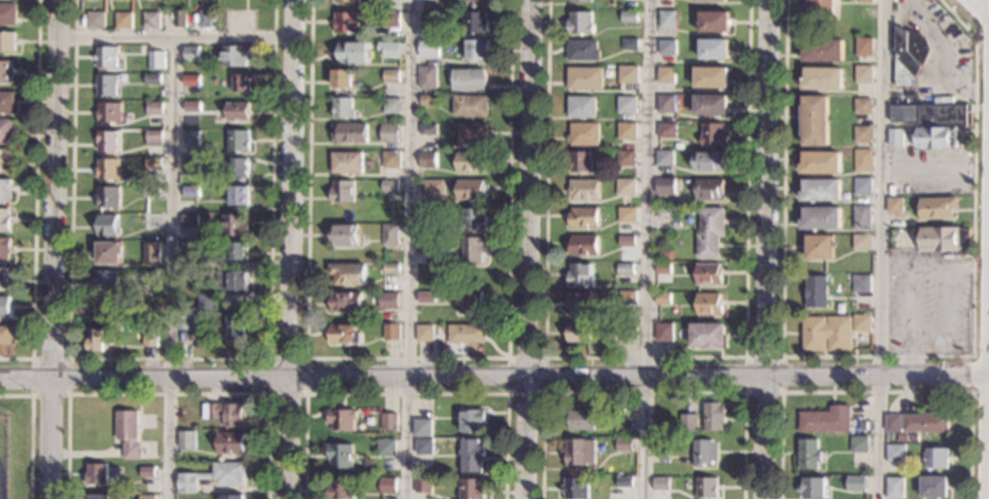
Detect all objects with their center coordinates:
building: (347, 1)
building: (582, 1)
building: (711, 1)
building: (865, 1)
building: (822, 7)
building: (8, 14)
building: (430, 17)
building: (630, 17)
building: (180, 18)
building: (202, 19)
building: (668, 19)
building: (95, 20)
building: (123, 20)
building: (151, 20)
building: (392, 20)
building: (347, 22)
building: (581, 22)
building: (714, 22)
building: (476, 23)
road: (975, 25)
road: (177, 37)
building: (7, 42)
building: (631, 44)
building: (668, 47)
building: (864, 47)
building: (430, 48)
building: (390, 49)
building: (478, 49)
building: (584, 50)
building: (715, 50)
building: (824, 50)
building: (352, 52)
building: (191, 53)
building: (235, 55)
building: (910, 56)
building: (106, 57)
building: (156, 60)
building: (6, 71)
building: (379, 74)
building: (864, 74)
building: (629, 75)
building: (666, 75)
building: (392, 76)
building: (428, 77)
building: (712, 77)
building: (344, 78)
building: (585, 78)
building: (153, 79)
building: (468, 79)
building: (824, 79)
building: (192, 80)
building: (242, 82)
building: (106, 84)
building: (429, 100)
building: (6, 102)
building: (667, 103)
building: (393, 105)
building: (628, 105)
building: (712, 105)
building: (192, 106)
building: (471, 106)
building: (583, 107)
building: (863, 107)
building: (154, 108)
building: (344, 108)
building: (238, 111)
building: (109, 113)
building: (933, 115)
building: (815, 121)
building: (429, 130)
building: (668, 130)
building: (5, 131)
building: (628, 131)
building: (351, 133)
building: (389, 133)
building: (473, 134)
building: (714, 134)
building: (862, 134)
building: (584, 135)
building: (191, 137)
building: (895, 137)
building: (155, 138)
building: (936, 138)
building: (108, 140)
building: (239, 140)
building: (626, 158)
building: (665, 158)
building: (392, 159)
building: (429, 160)
building: (709, 160)
building: (863, 160)
building: (6, 161)
building: (581, 161)
building: (347, 162)
building: (472, 162)
building: (821, 163)
building: (153, 164)
building: (192, 166)
building: (240, 167)
building: (109, 169)
building: (390, 186)
building: (666, 186)
building: (862, 186)
building: (626, 187)
building: (432, 189)
building: (584, 189)
building: (5, 190)
building: (344, 190)
building: (472, 190)
building: (710, 190)
building: (821, 190)
building: (191, 191)
building: (152, 192)
road: (34, 195)
building: (239, 195)
building: (109, 197)
building: (895, 205)
building: (937, 208)
building: (627, 213)
building: (429, 214)
building: (666, 216)
building: (584, 217)
building: (862, 217)
building: (190, 218)
building: (821, 218)
building: (4, 220)
building: (473, 220)
building: (153, 222)
building: (108, 225)
building: (236, 225)
building: (710, 232)
building: (345, 235)
building: (391, 235)
building: (945, 240)
building: (627, 241)
building: (861, 242)
building: (430, 243)
building: (583, 246)
building: (5, 248)
building: (820, 248)
road: (53, 249)
road: (293, 249)
road: (407, 249)
building: (473, 249)
road: (529, 249)
road: (643, 249)
road: (766, 249)
road: (879, 249)
building: (239, 251)
building: (110, 252)
building: (152, 253)
building: (665, 256)
building: (217, 263)
road: (172, 268)
building: (390, 268)
building: (625, 268)
building: (662, 269)
building: (349, 274)
building: (152, 275)
building: (581, 275)
building: (709, 275)
building: (4, 277)
road: (907, 278)
building: (108, 281)
building: (238, 281)
building: (861, 283)
building: (816, 292)
building: (425, 297)
building: (627, 297)
building: (662, 298)
building: (208, 301)
building: (347, 301)
building: (390, 301)
building: (470, 302)
building: (581, 303)
building: (708, 304)
building: (5, 306)
building: (186, 321)
building: (861, 323)
building: (236, 325)
road: (947, 328)
building: (149, 329)
building: (391, 332)
building: (578, 332)
building: (625, 332)
building: (663, 332)
building: (425, 333)
building: (466, 333)
building: (826, 334)
building: (6, 335)
building: (345, 335)
building: (707, 335)
building: (152, 338)
building: (101, 339)
road: (881, 356)
road: (643, 357)
road: (744, 357)
road: (406, 358)
road: (543, 358)
road: (68, 359)
road: (168, 359)
road: (270, 359)
road: (971, 363)
road: (494, 376)
road: (987, 382)
road: (980, 390)
road: (876, 391)
road: (643, 392)
road: (168, 394)
road: (405, 394)
building: (226, 413)
building: (713, 416)
building: (342, 419)
building: (583, 420)
building: (825, 420)
building: (389, 421)
building: (472, 421)
building: (925, 422)
building: (688, 423)
building: (891, 424)
building: (422, 427)
building: (622, 428)
road: (31, 431)
building: (129, 433)
building: (187, 440)
building: (232, 443)
building: (624, 445)
building: (858, 445)
building: (386, 447)
building: (423, 447)
building: (660, 447)
building: (576, 452)
building: (701, 452)
building: (894, 453)
building: (808, 454)
building: (471, 456)
building: (341, 457)
building: (935, 458)
building: (148, 472)
building: (97, 474)
building: (213, 477)
building: (623, 482)
building: (660, 483)
building: (854, 483)
building: (387, 485)
building: (423, 486)
building: (703, 487)
building: (934, 487)
building: (575, 488)
building: (812, 488)
building: (893, 488)
building: (340, 489)
building: (472, 489)
building: (100, 497)
building: (147, 497)
building: (233, 497)

